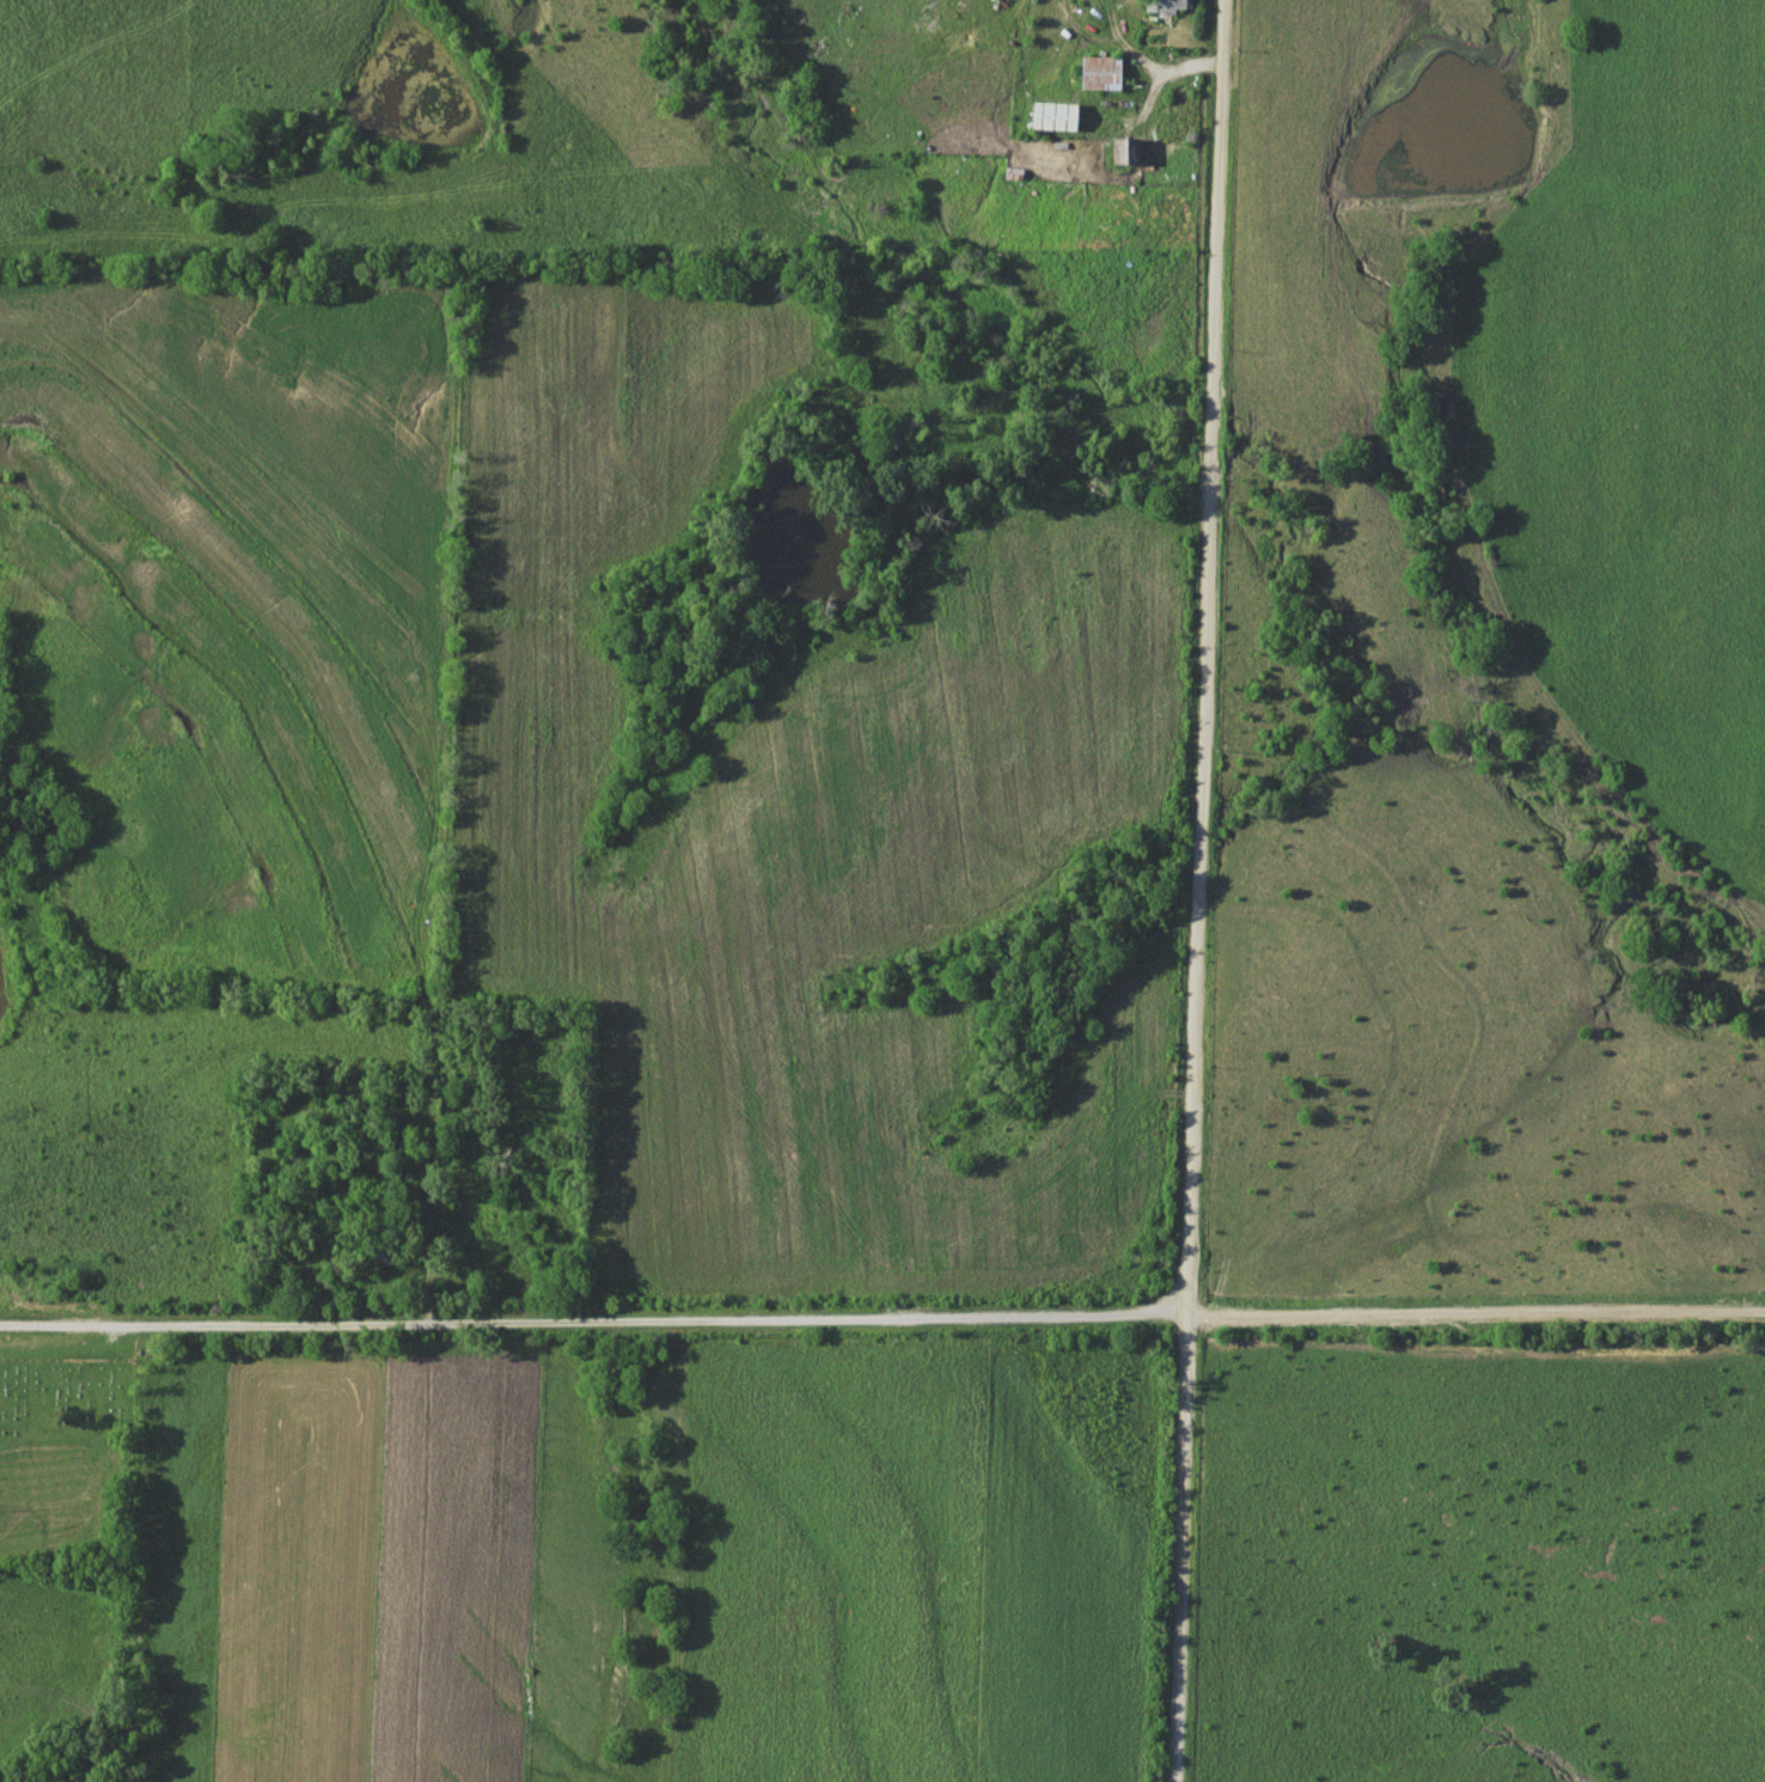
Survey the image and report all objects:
building: (1175, 5)
building: (1100, 73)
building: (1055, 116)
building: (1120, 149)
road: (1197, 891)
road: (1474, 1314)
road: (592, 1320)
park: (65, 1464)

